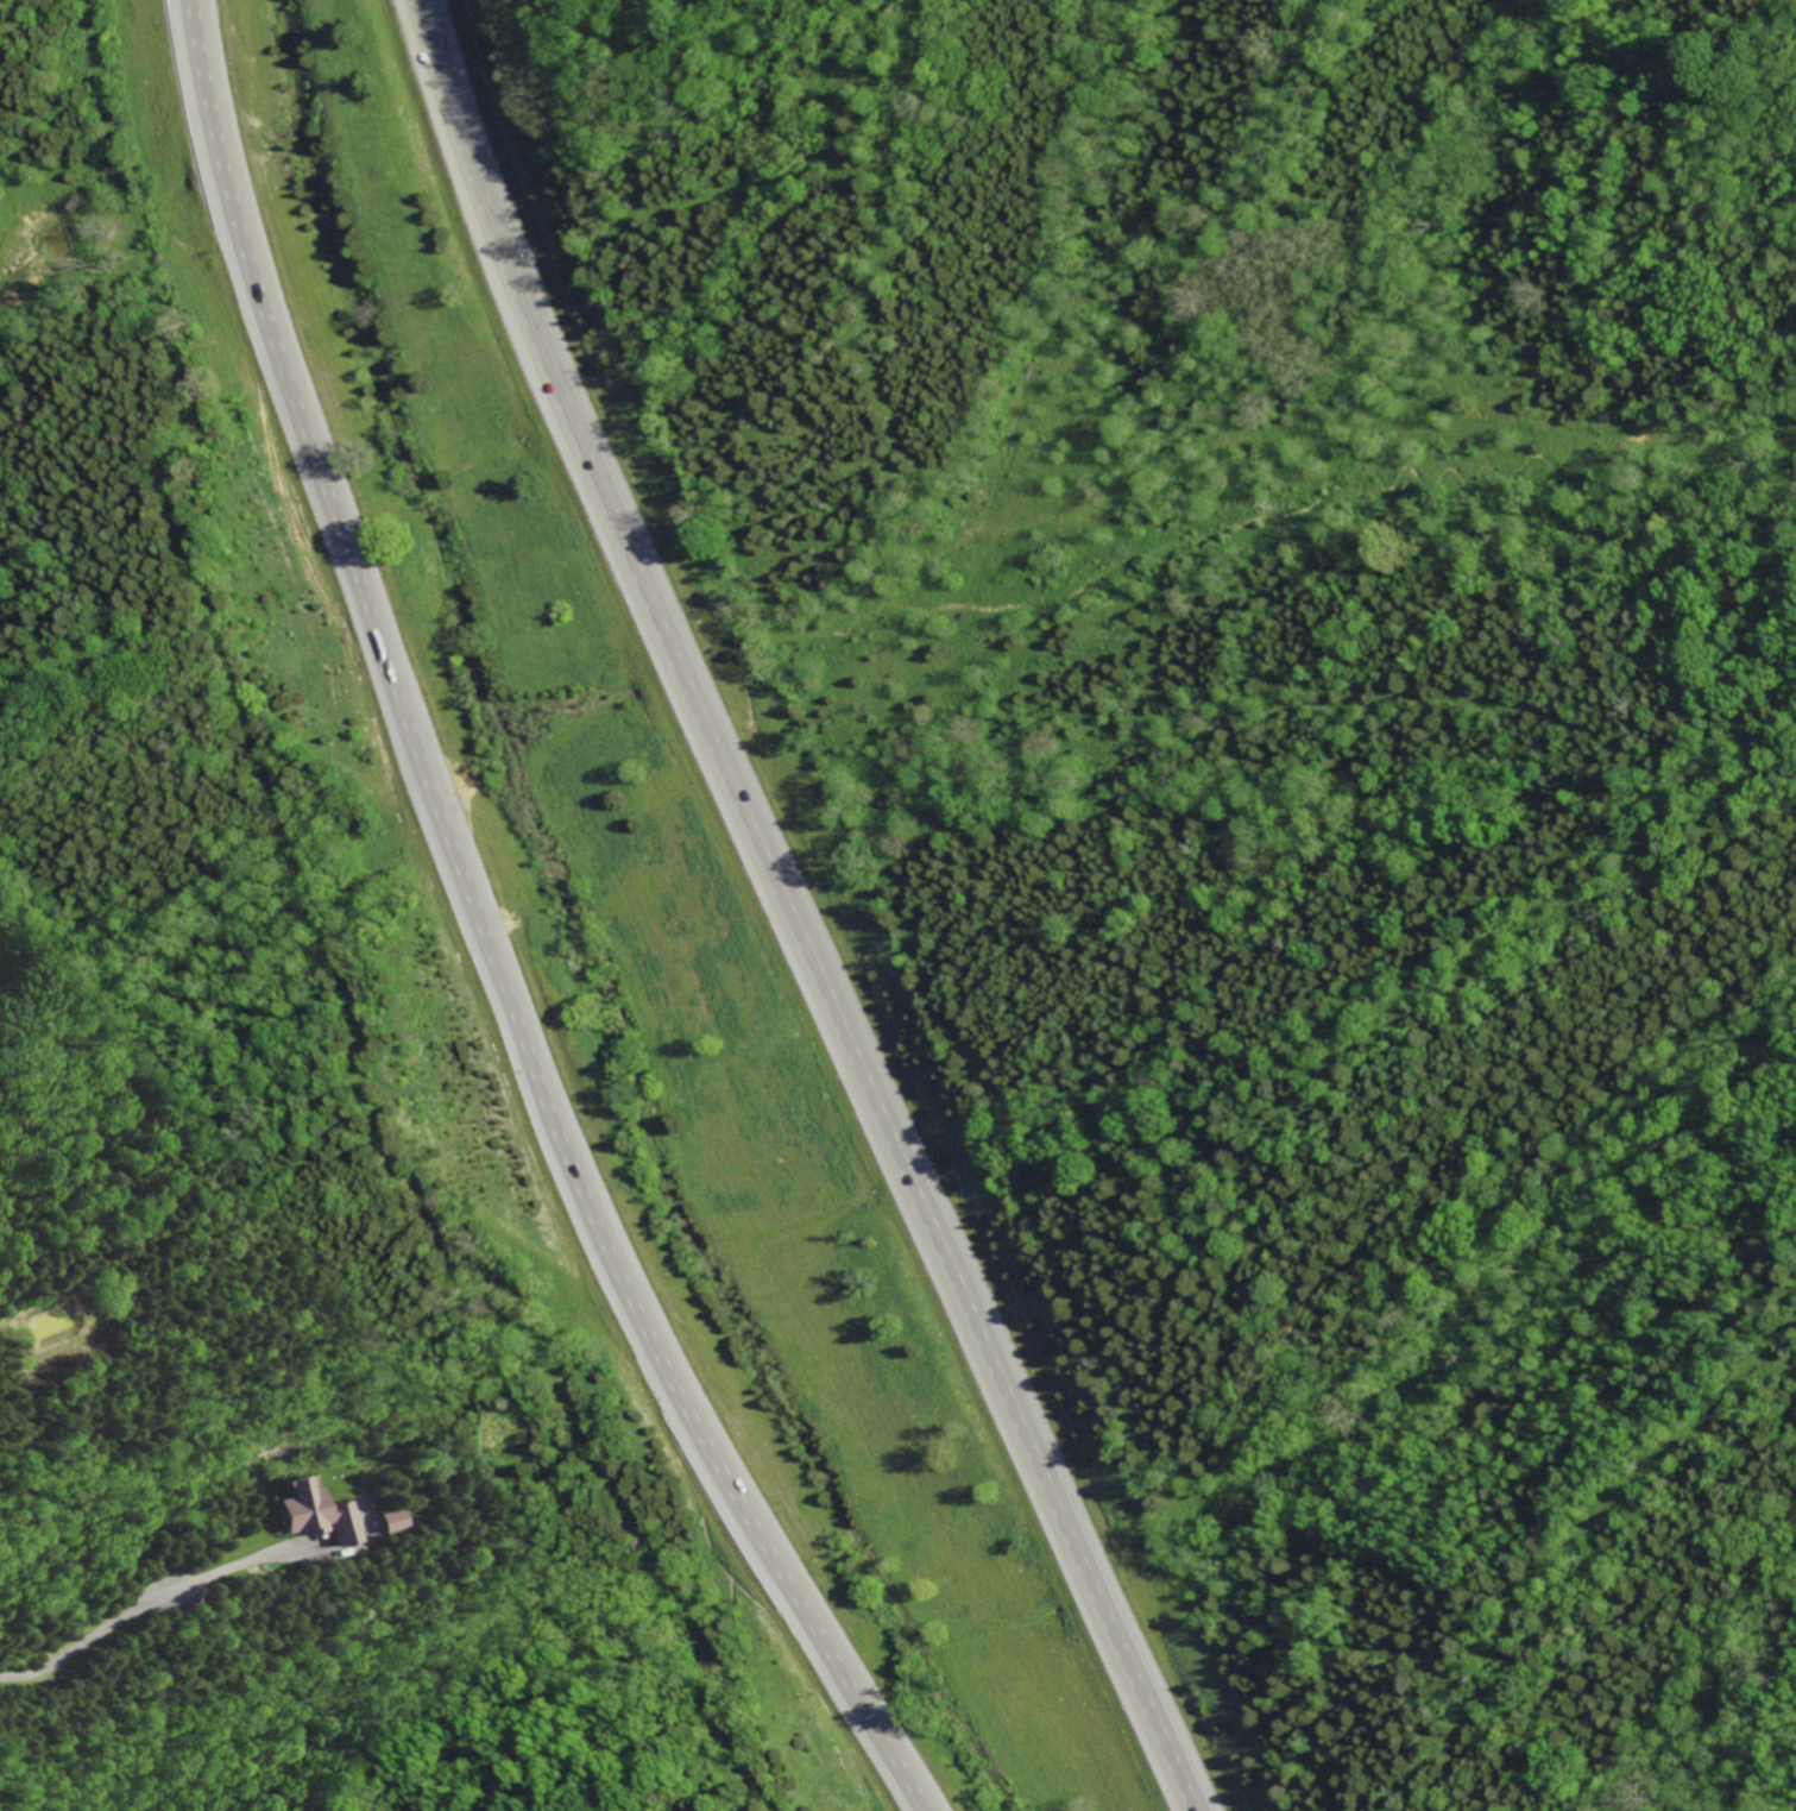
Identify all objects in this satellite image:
road: (799, 911)
road: (480, 936)
building: (301, 1513)
building: (379, 1520)
road: (133, 1604)

